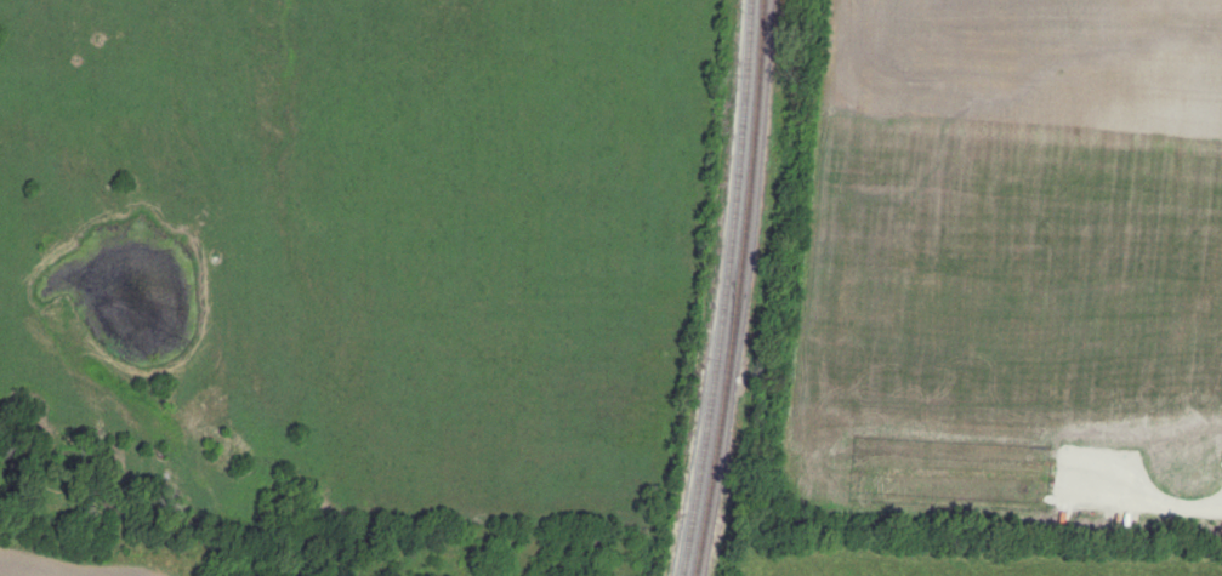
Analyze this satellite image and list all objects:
railway: (724, 289)
railway: (737, 289)

